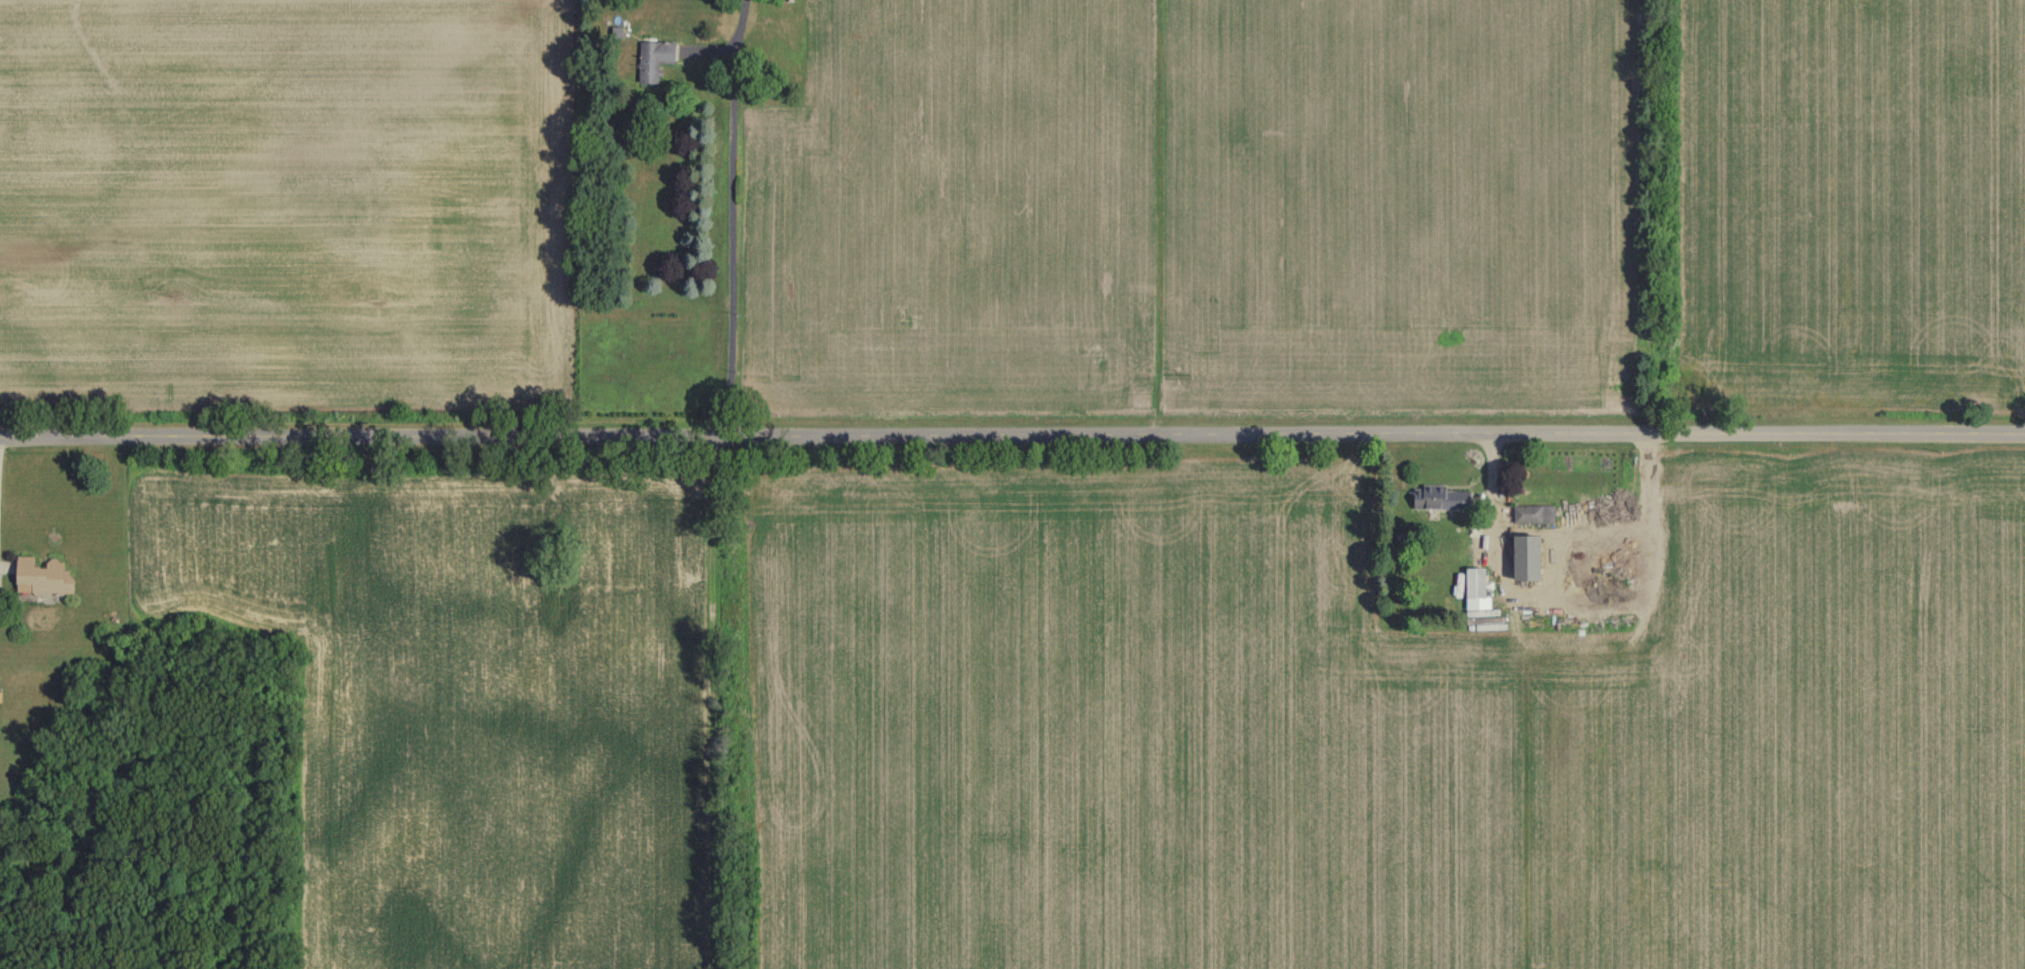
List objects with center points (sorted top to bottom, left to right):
building: (655, 59)
building: (650, 206)
road: (733, 216)
road: (1012, 432)
building: (1444, 497)
building: (1535, 513)
building: (1530, 556)
building: (45, 576)
building: (1478, 588)

